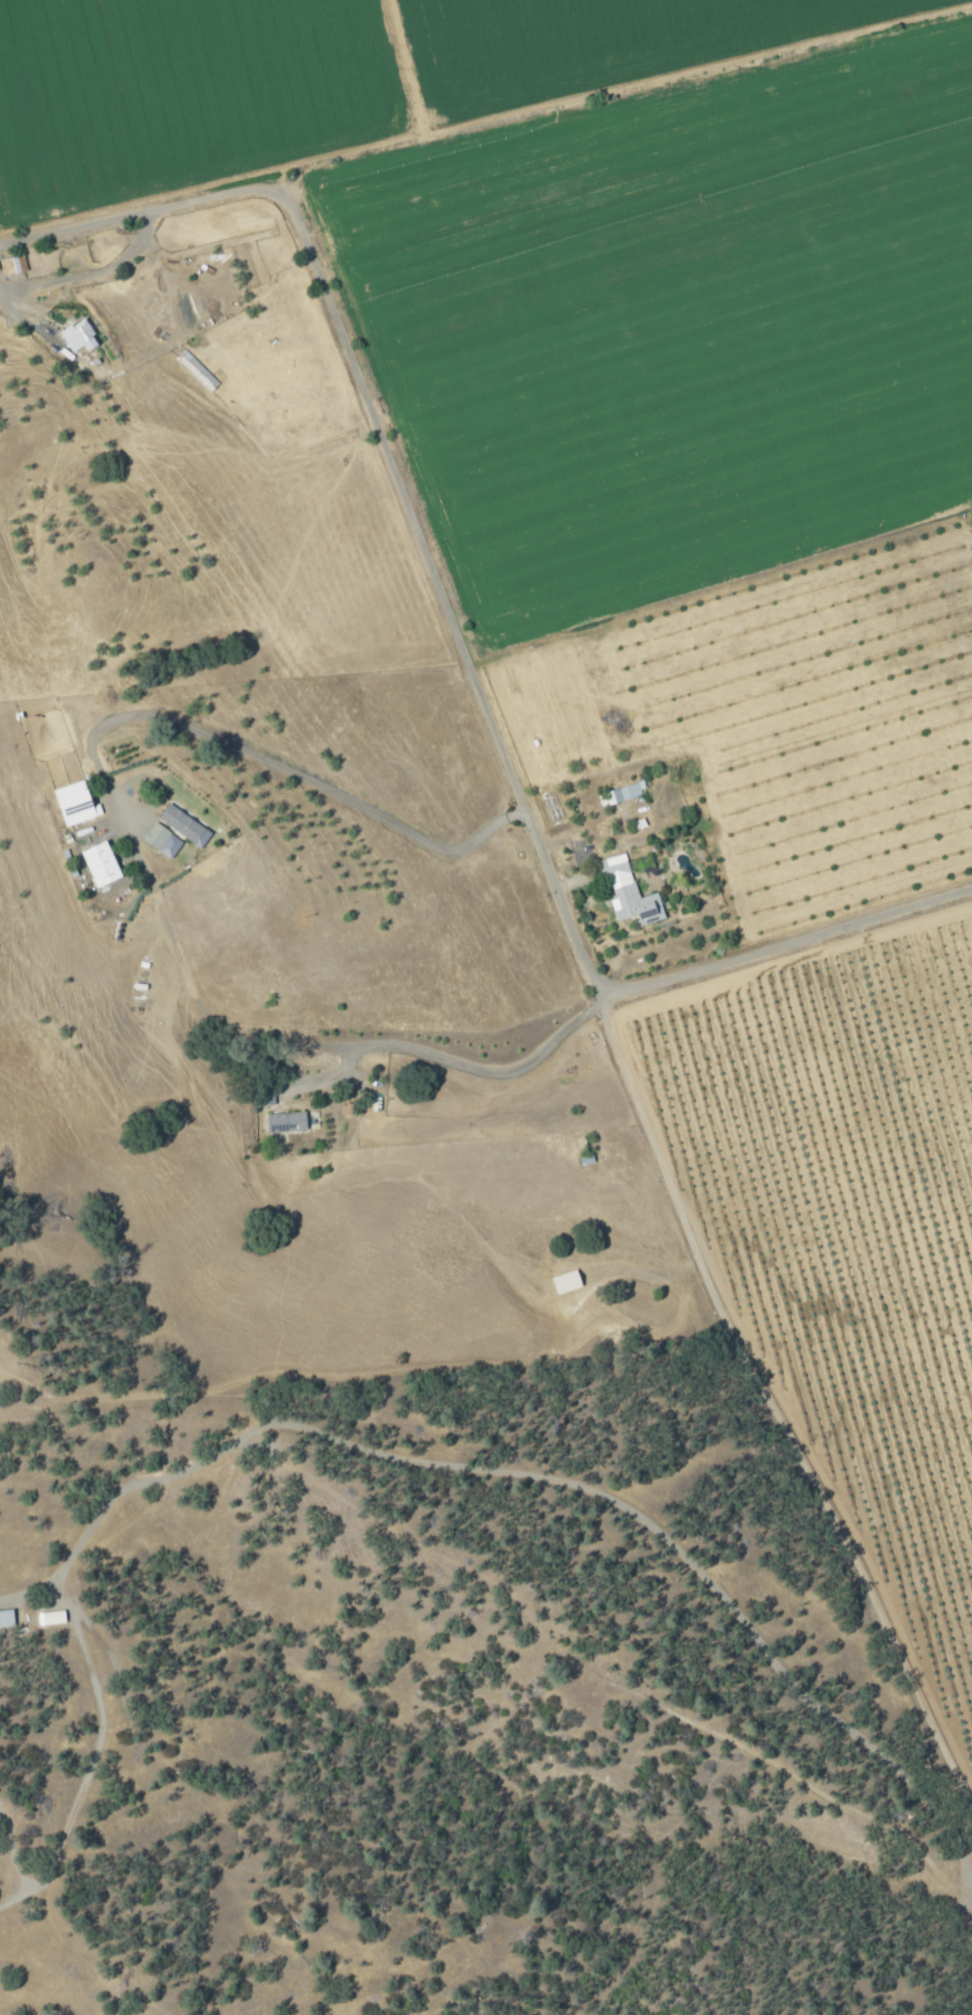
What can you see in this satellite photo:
building: (11, 264)
road: (92, 273)
road: (18, 313)
building: (79, 335)
road: (392, 452)
crop: (784, 725)
road: (239, 749)
building: (626, 791)
building: (75, 803)
building: (180, 823)
building: (155, 836)
building: (100, 863)
building: (635, 896)
road: (792, 940)
road: (468, 1062)
building: (287, 1120)
building: (568, 1279)
road: (768, 1400)
road: (535, 1476)
building: (6, 1616)
road: (86, 1622)
road: (94, 1757)
road: (12, 1848)

